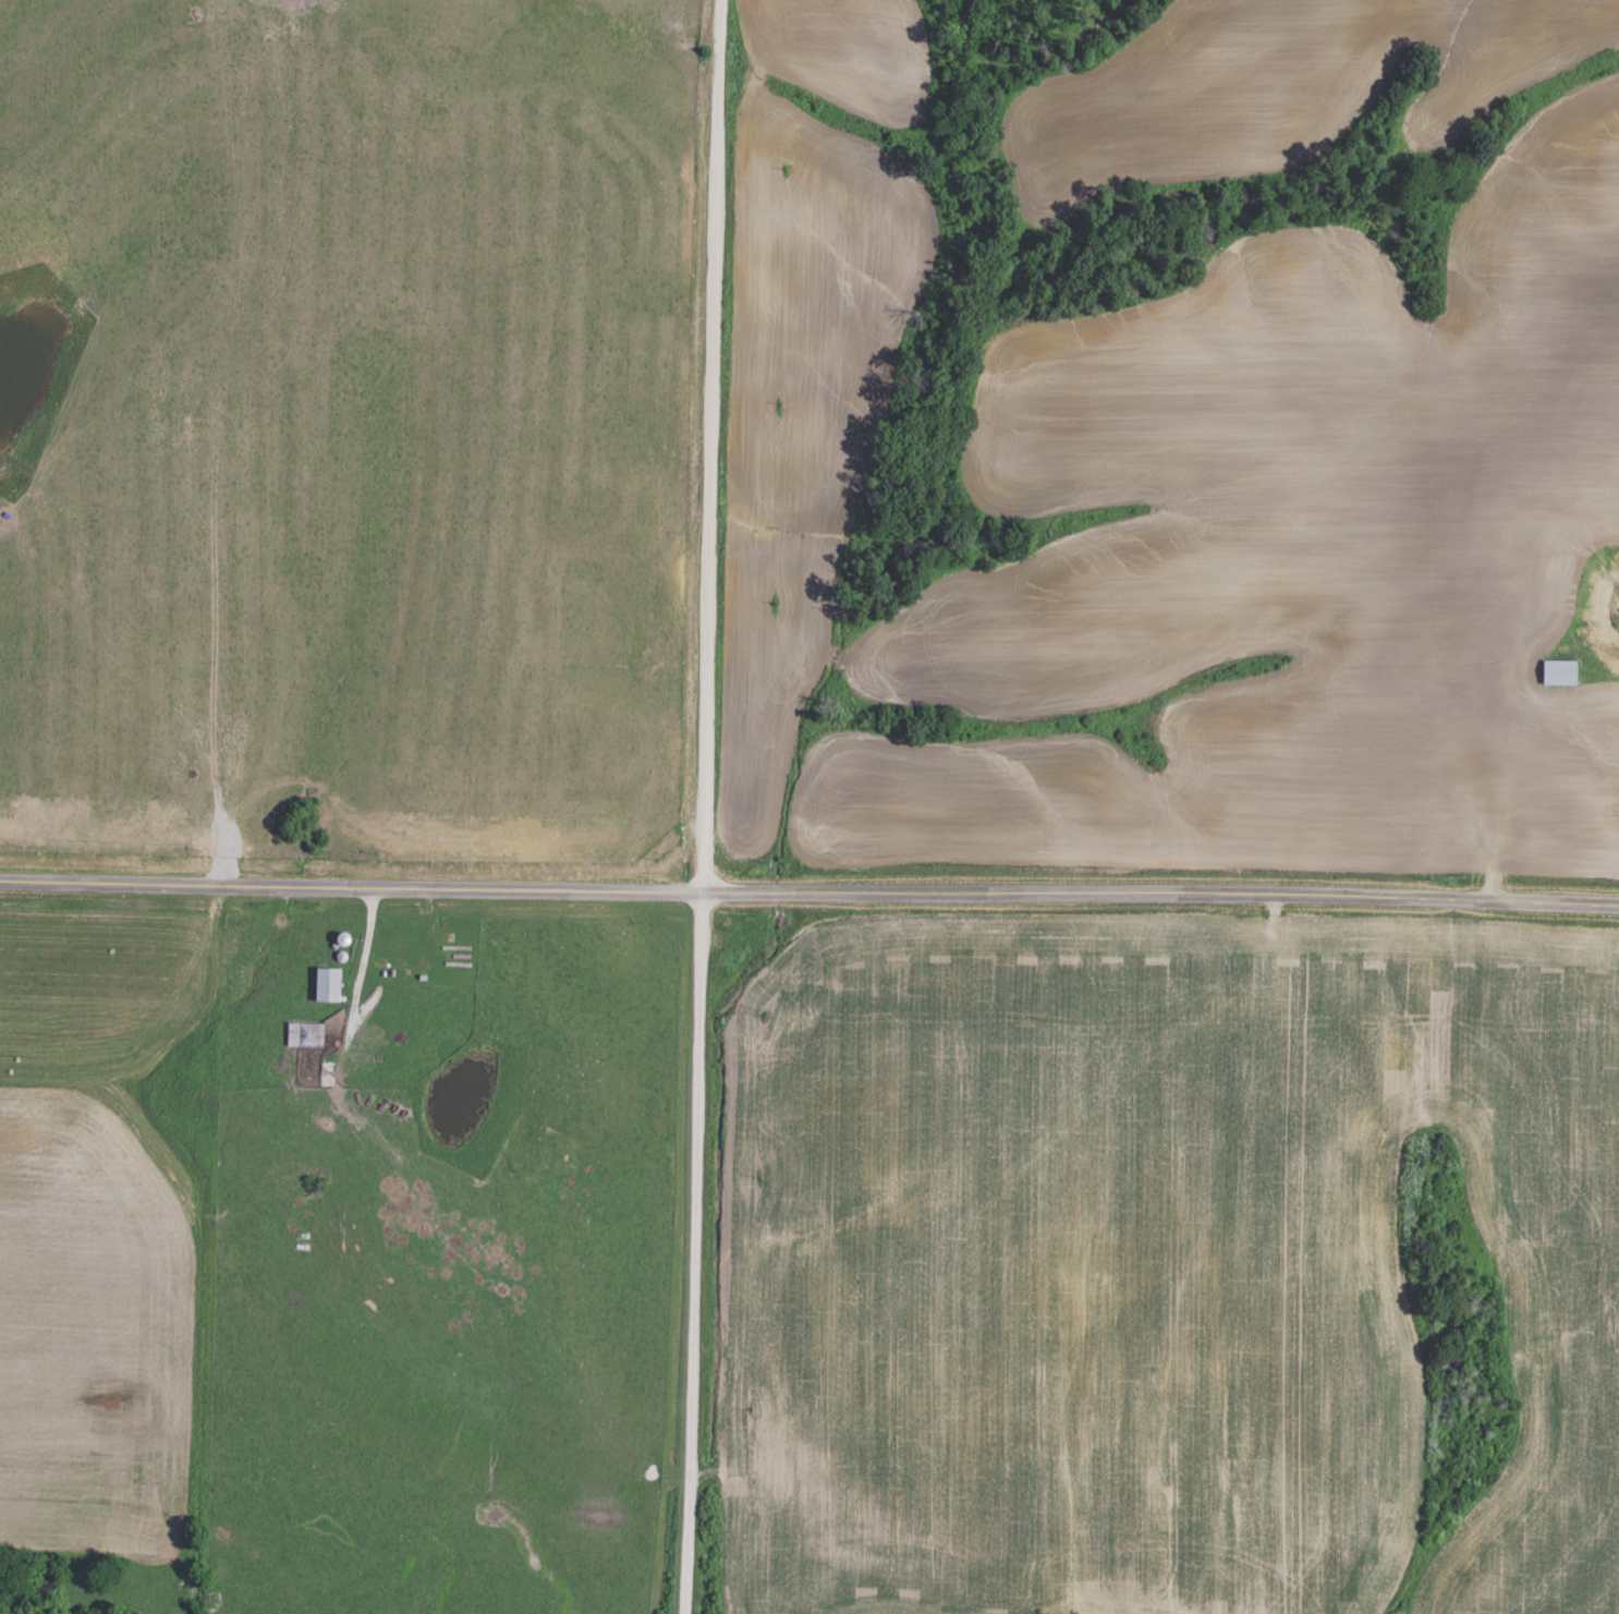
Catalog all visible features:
road: (706, 447)
building: (1562, 672)
road: (809, 893)
building: (330, 985)
building: (306, 1035)
road: (696, 1254)

